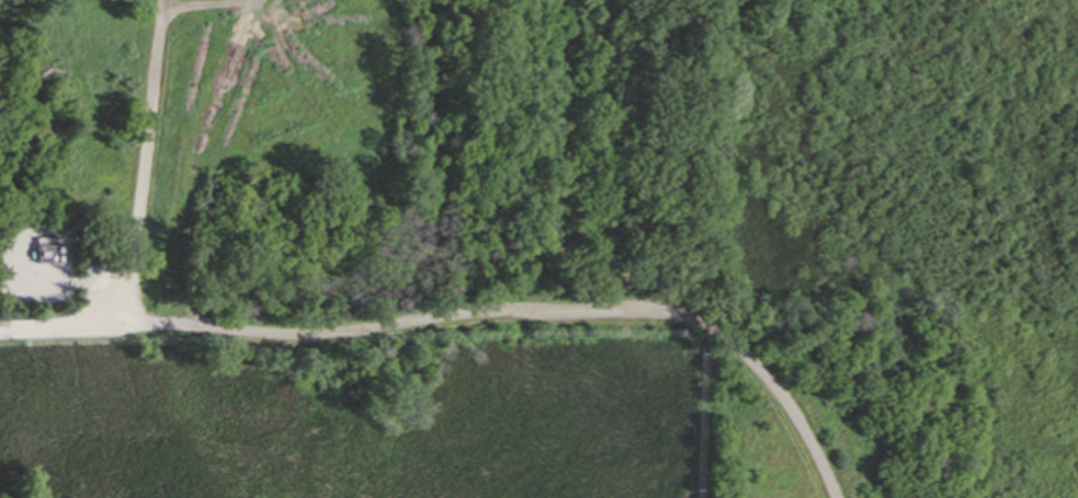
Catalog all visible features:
road: (159, 0)
road: (139, 164)
road: (535, 311)
road: (73, 328)

